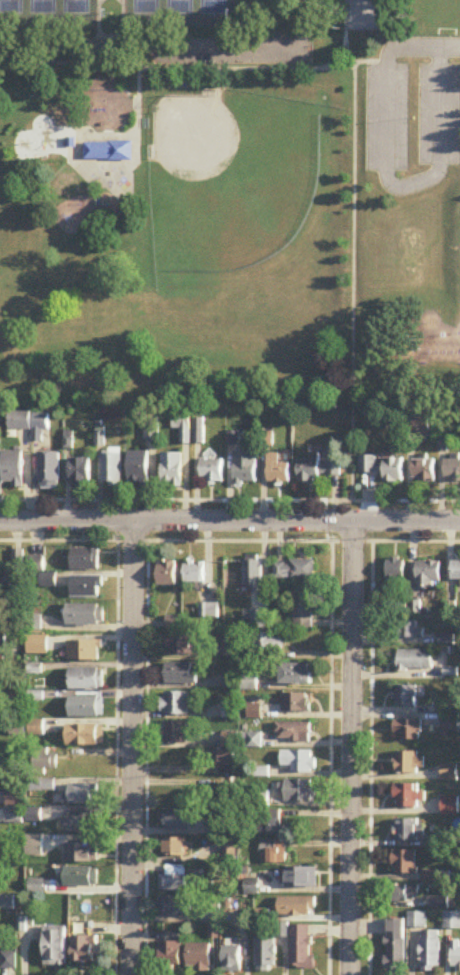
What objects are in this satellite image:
park: (11, 6)
park: (43, 6)
park: (75, 6)
park: (146, 7)
park: (179, 7)
park: (212, 7)
building: (249, 14)
road: (150, 46)
road: (449, 46)
road: (69, 61)
road: (353, 64)
road: (268, 67)
parking lot: (439, 113)
parking lot: (387, 116)
road: (100, 135)
road: (73, 149)
road: (137, 150)
building: (109, 151)
park: (230, 179)
road: (388, 179)
park: (202, 194)
road: (352, 266)
building: (183, 420)
building: (31, 424)
building: (200, 431)
building: (245, 467)
building: (139, 468)
building: (383, 468)
building: (13, 469)
building: (317, 469)
building: (112, 470)
building: (173, 470)
building: (212, 470)
building: (278, 470)
building: (50, 471)
building: (424, 471)
building: (452, 471)
building: (80, 473)
road: (229, 498)
road: (229, 522)
building: (85, 560)
building: (294, 570)
building: (395, 570)
building: (456, 571)
building: (194, 573)
building: (429, 573)
building: (167, 574)
building: (252, 575)
building: (12, 581)
building: (87, 588)
building: (303, 610)
building: (209, 611)
building: (85, 615)
building: (257, 619)
building: (173, 622)
building: (410, 630)
building: (229, 645)
building: (38, 646)
building: (181, 646)
building: (269, 647)
building: (84, 651)
building: (415, 660)
building: (181, 674)
building: (297, 675)
building: (86, 680)
building: (406, 696)
building: (296, 703)
building: (175, 704)
building: (86, 707)
building: (450, 724)
building: (407, 730)
building: (293, 732)
building: (173, 733)
building: (85, 735)
road: (134, 748)
road: (352, 749)
building: (225, 758)
building: (299, 761)
building: (45, 763)
building: (410, 763)
building: (450, 773)
building: (41, 786)
building: (299, 792)
building: (409, 797)
building: (15, 805)
building: (450, 806)
building: (175, 820)
building: (80, 821)
building: (273, 824)
building: (409, 831)
building: (175, 849)
building: (82, 853)
building: (275, 853)
building: (405, 866)
building: (82, 878)
building: (301, 879)
building: (174, 880)
building: (37, 887)
building: (406, 894)
building: (7, 903)
building: (231, 906)
building: (175, 907)
building: (297, 908)
building: (417, 921)
building: (395, 945)
building: (55, 946)
building: (302, 948)
building: (84, 951)
building: (430, 951)
building: (171, 955)
building: (265, 956)
building: (456, 956)
building: (199, 957)
building: (232, 960)
building: (8, 961)

